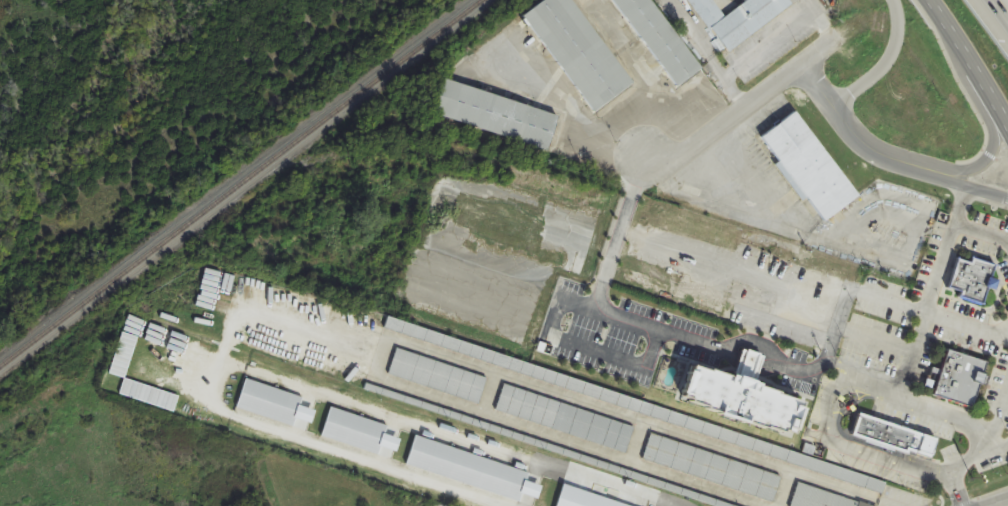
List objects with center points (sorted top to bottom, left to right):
road: (937, 9)
road: (999, 12)
building: (739, 19)
building: (660, 40)
road: (765, 45)
building: (580, 51)
road: (885, 62)
road: (972, 64)
road: (743, 108)
building: (497, 115)
road: (1004, 117)
road: (576, 118)
road: (858, 136)
road: (985, 157)
building: (809, 167)
road: (763, 170)
railway: (238, 182)
road: (972, 191)
road: (957, 207)
road: (979, 235)
building: (972, 279)
road: (926, 313)
road: (967, 326)
road: (875, 338)
road: (713, 346)
road: (839, 370)
building: (438, 376)
building: (958, 376)
road: (850, 381)
building: (737, 391)
building: (270, 403)
road: (999, 410)
building: (565, 418)
road: (416, 424)
building: (355, 431)
building: (891, 432)
road: (995, 441)
road: (366, 460)
building: (712, 468)
building: (468, 469)
road: (957, 496)
building: (821, 498)
building: (583, 499)
road: (998, 502)

